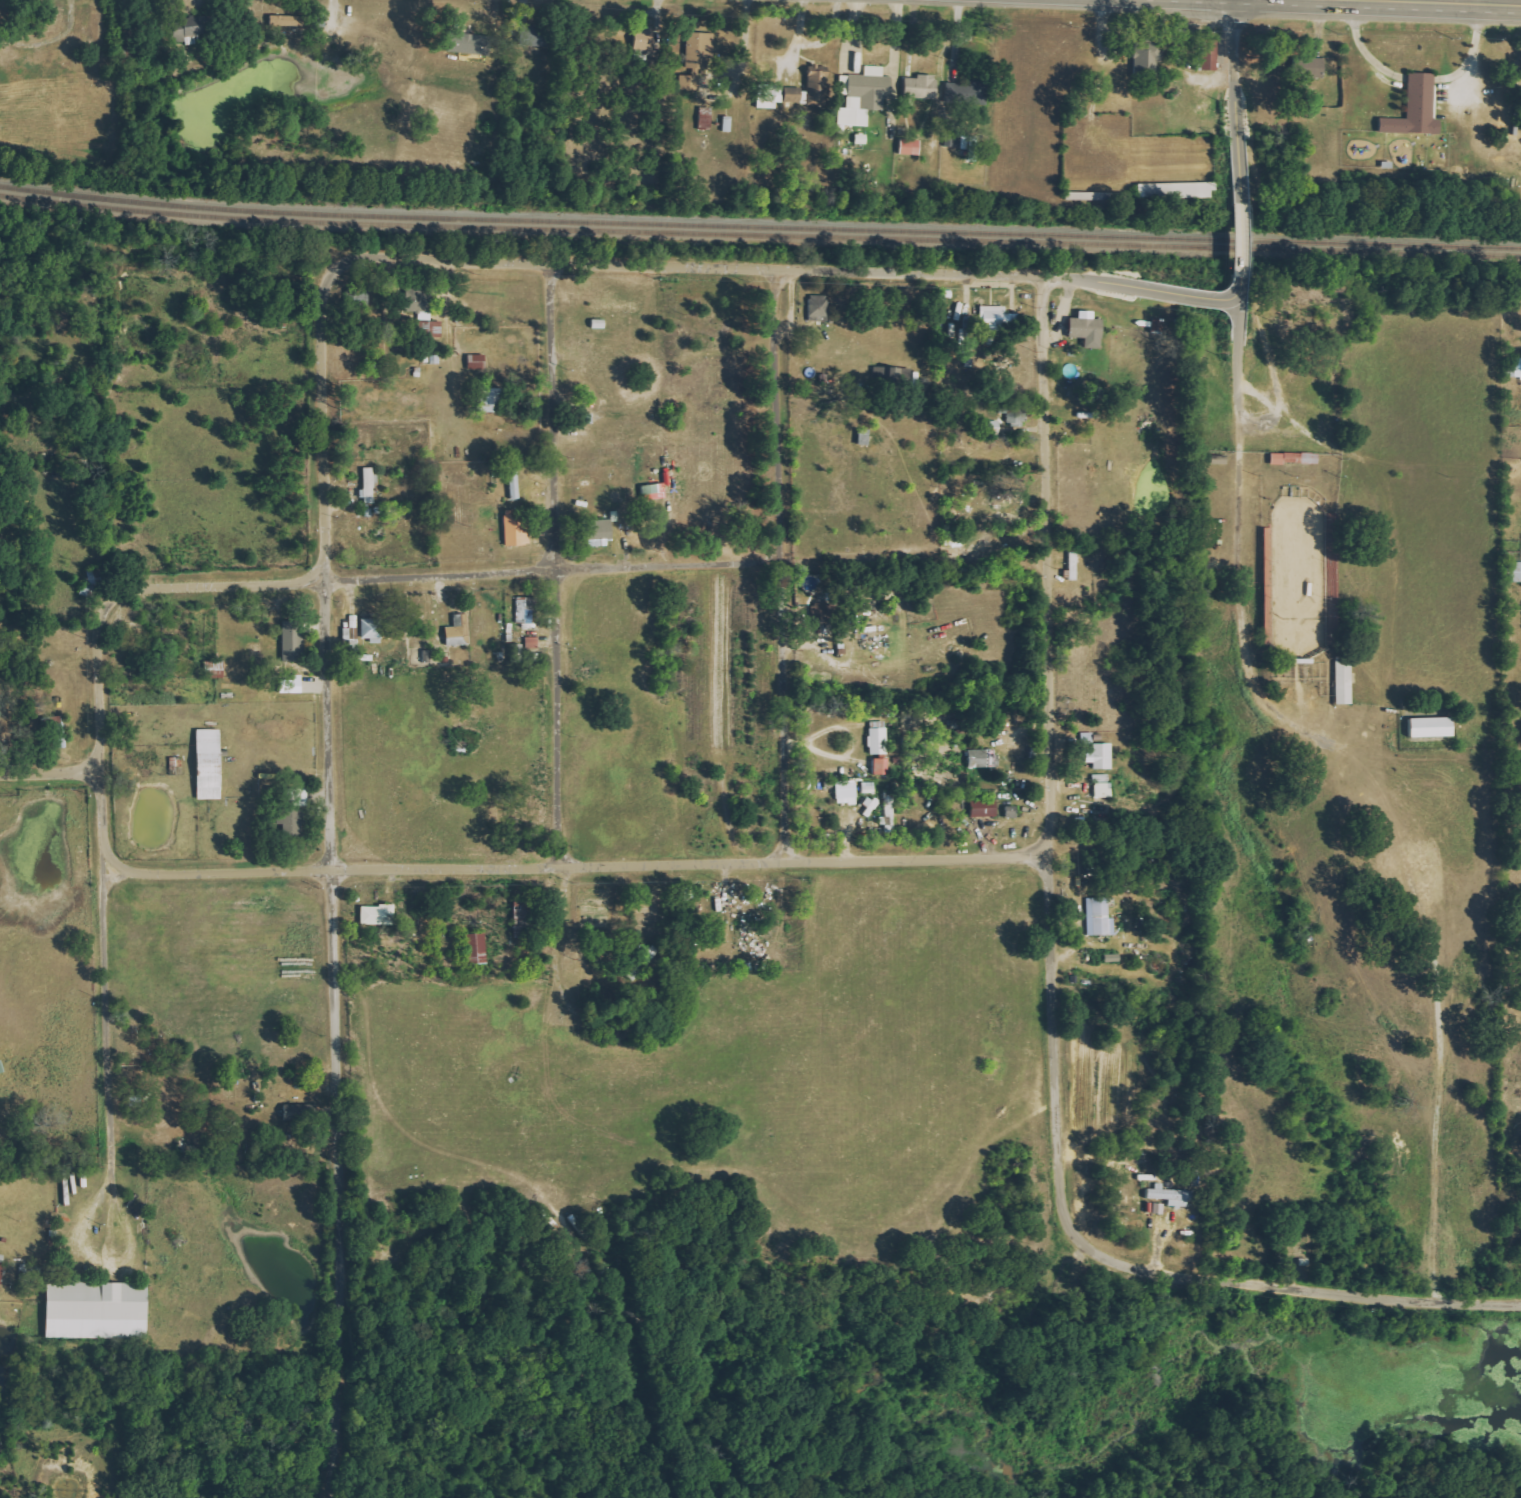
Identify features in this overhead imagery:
road: (1475, 0)
building: (292, 22)
building: (193, 33)
road: (832, 36)
building: (536, 37)
road: (799, 41)
building: (475, 45)
building: (703, 50)
building: (1311, 69)
building: (692, 84)
building: (923, 89)
building: (812, 90)
building: (979, 93)
building: (866, 96)
road: (1237, 102)
building: (1419, 110)
building: (707, 119)
building: (729, 127)
building: (864, 139)
building: (913, 148)
building: (976, 150)
building: (1177, 191)
railway: (759, 224)
railway: (759, 236)
road: (1236, 239)
road: (542, 267)
road: (957, 277)
road: (1230, 292)
road: (1175, 293)
road: (794, 308)
building: (820, 308)
building: (426, 312)
building: (998, 317)
building: (1160, 325)
building: (1091, 329)
building: (478, 362)
road: (560, 419)
building: (993, 426)
road: (326, 430)
building: (1297, 459)
building: (517, 485)
building: (371, 486)
building: (653, 493)
building: (1009, 503)
building: (520, 530)
building: (601, 532)
road: (673, 565)
building: (1076, 566)
road: (784, 568)
road: (1051, 568)
road: (447, 571)
building: (1511, 572)
road: (122, 582)
building: (528, 610)
building: (823, 613)
building: (461, 631)
building: (295, 642)
building: (534, 643)
building: (520, 652)
building: (1346, 680)
road: (563, 718)
building: (1434, 728)
building: (1089, 738)
building: (880, 742)
building: (1103, 757)
building: (982, 759)
building: (212, 765)
building: (884, 767)
road: (1365, 769)
building: (1103, 778)
building: (870, 788)
building: (1105, 790)
building: (848, 793)
building: (986, 809)
road: (482, 870)
building: (380, 915)
building: (1102, 918)
building: (524, 920)
building: (480, 949)
road: (108, 1024)
road: (345, 1035)
building: (302, 1112)
building: (1174, 1197)
road: (1105, 1258)
building: (2, 1272)
building: (101, 1311)

